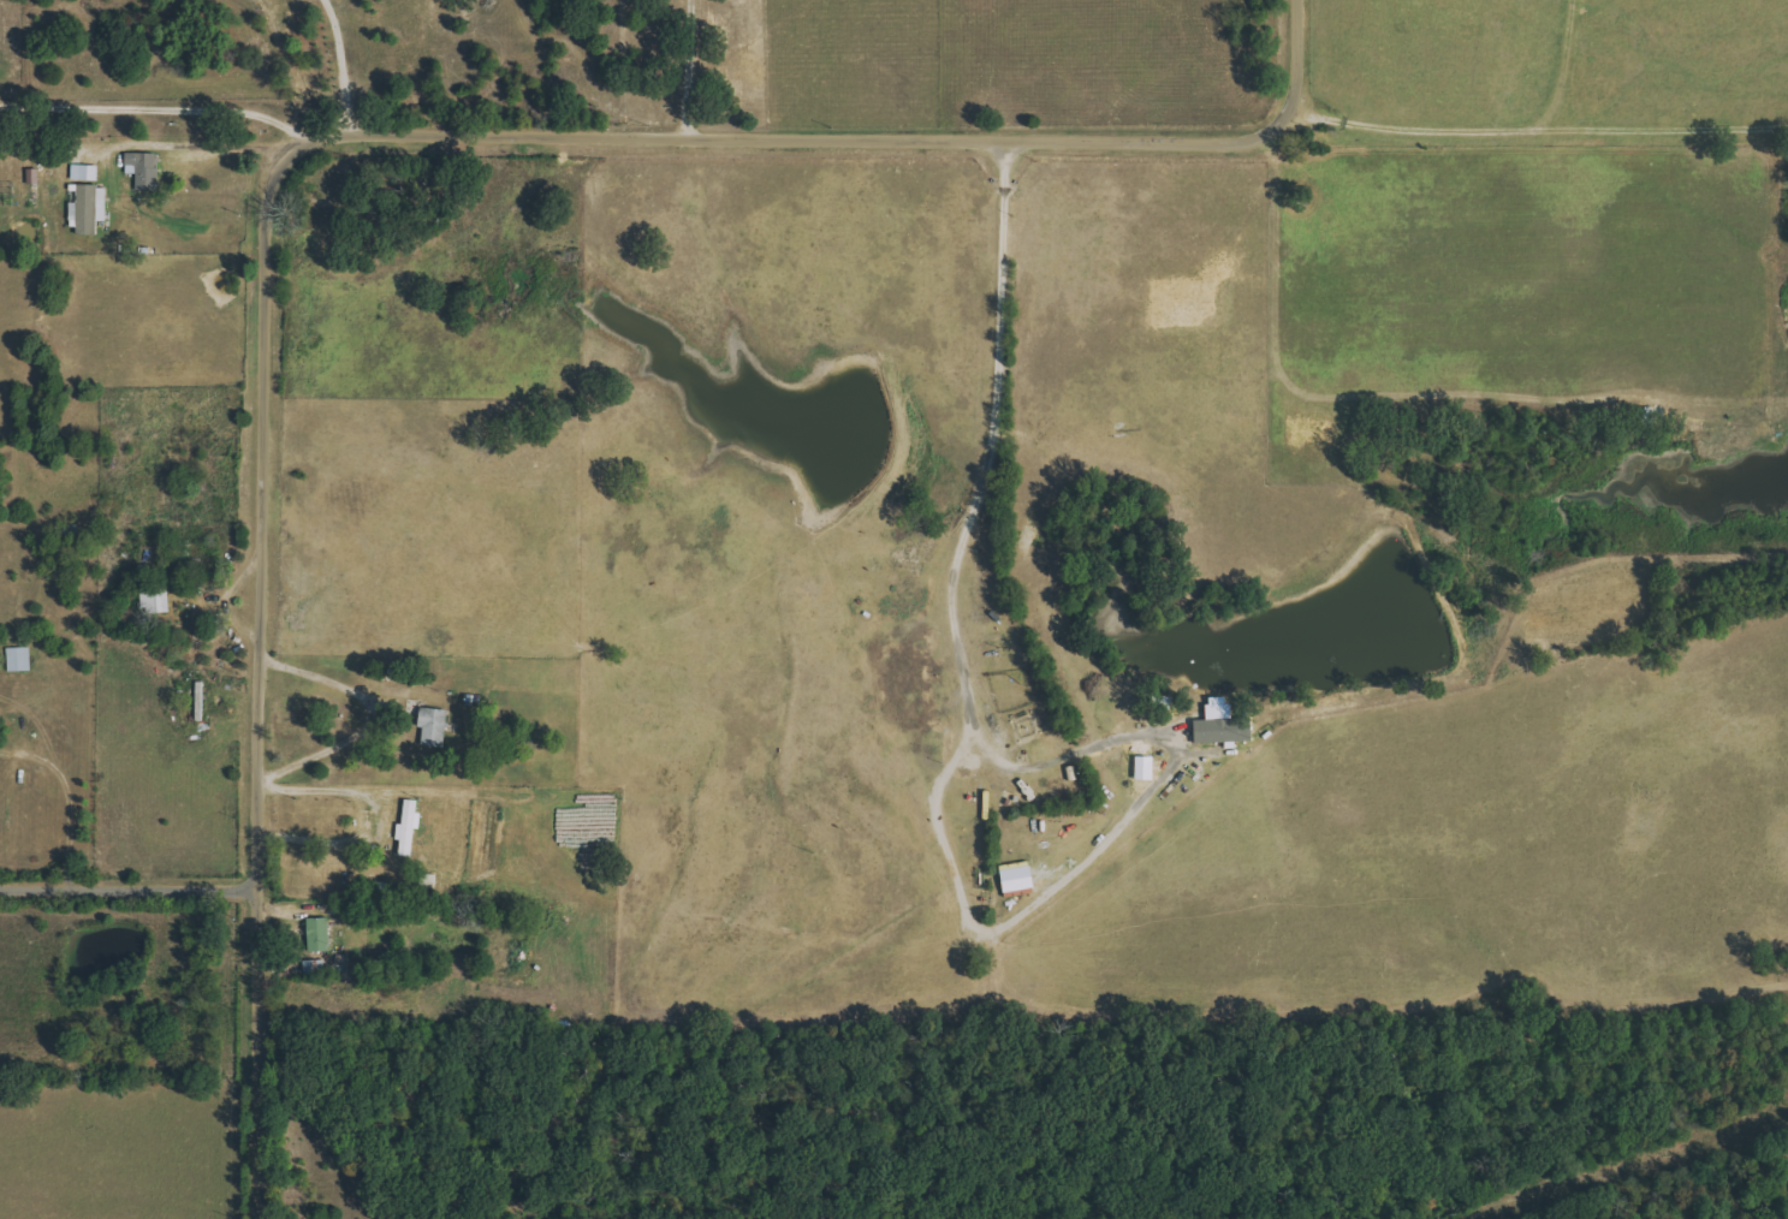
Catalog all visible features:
road: (682, 67)
road: (337, 70)
road: (155, 102)
road: (309, 144)
road: (197, 147)
building: (145, 170)
building: (91, 173)
building: (90, 208)
building: (156, 600)
building: (20, 659)
building: (1226, 725)
building: (435, 726)
road: (1020, 763)
road: (105, 786)
road: (71, 804)
building: (411, 827)
road: (129, 880)
building: (321, 934)
building: (314, 968)

